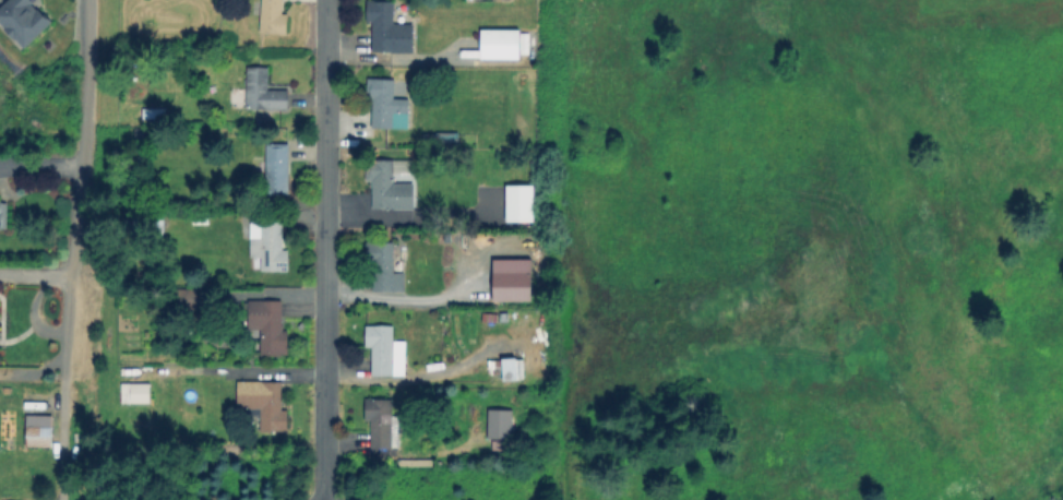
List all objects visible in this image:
building: (274, 17)
building: (23, 20)
building: (390, 28)
building: (501, 46)
building: (265, 92)
building: (389, 107)
building: (439, 143)
building: (278, 171)
building: (390, 189)
building: (517, 202)
building: (3, 216)
building: (148, 224)
building: (396, 225)
crop: (808, 236)
building: (270, 248)
road: (72, 249)
road: (324, 250)
building: (384, 270)
road: (35, 275)
building: (509, 278)
building: (196, 298)
road: (35, 310)
building: (270, 328)
building: (385, 353)
building: (510, 370)
building: (138, 394)
building: (264, 405)
building: (384, 425)
building: (501, 426)
building: (40, 432)

